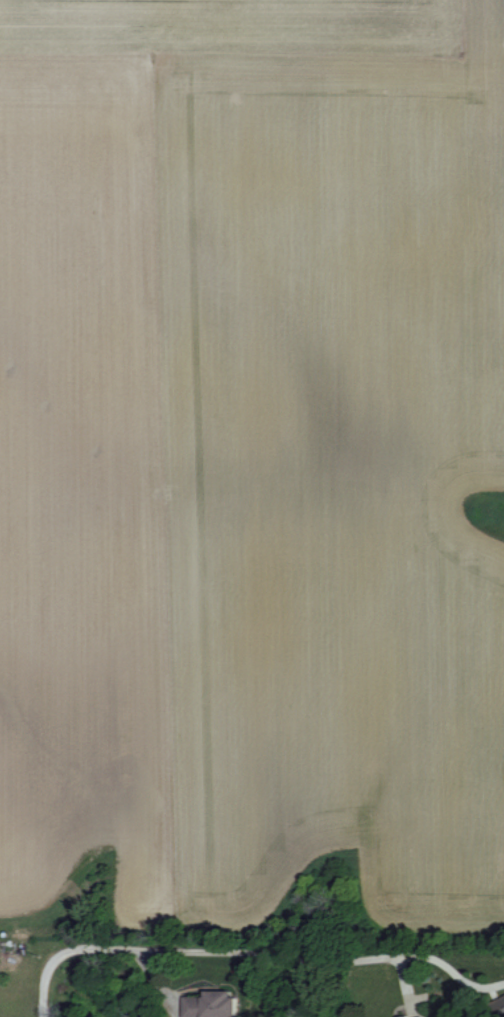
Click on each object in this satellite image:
road: (252, 952)
building: (209, 1005)
building: (500, 1005)

